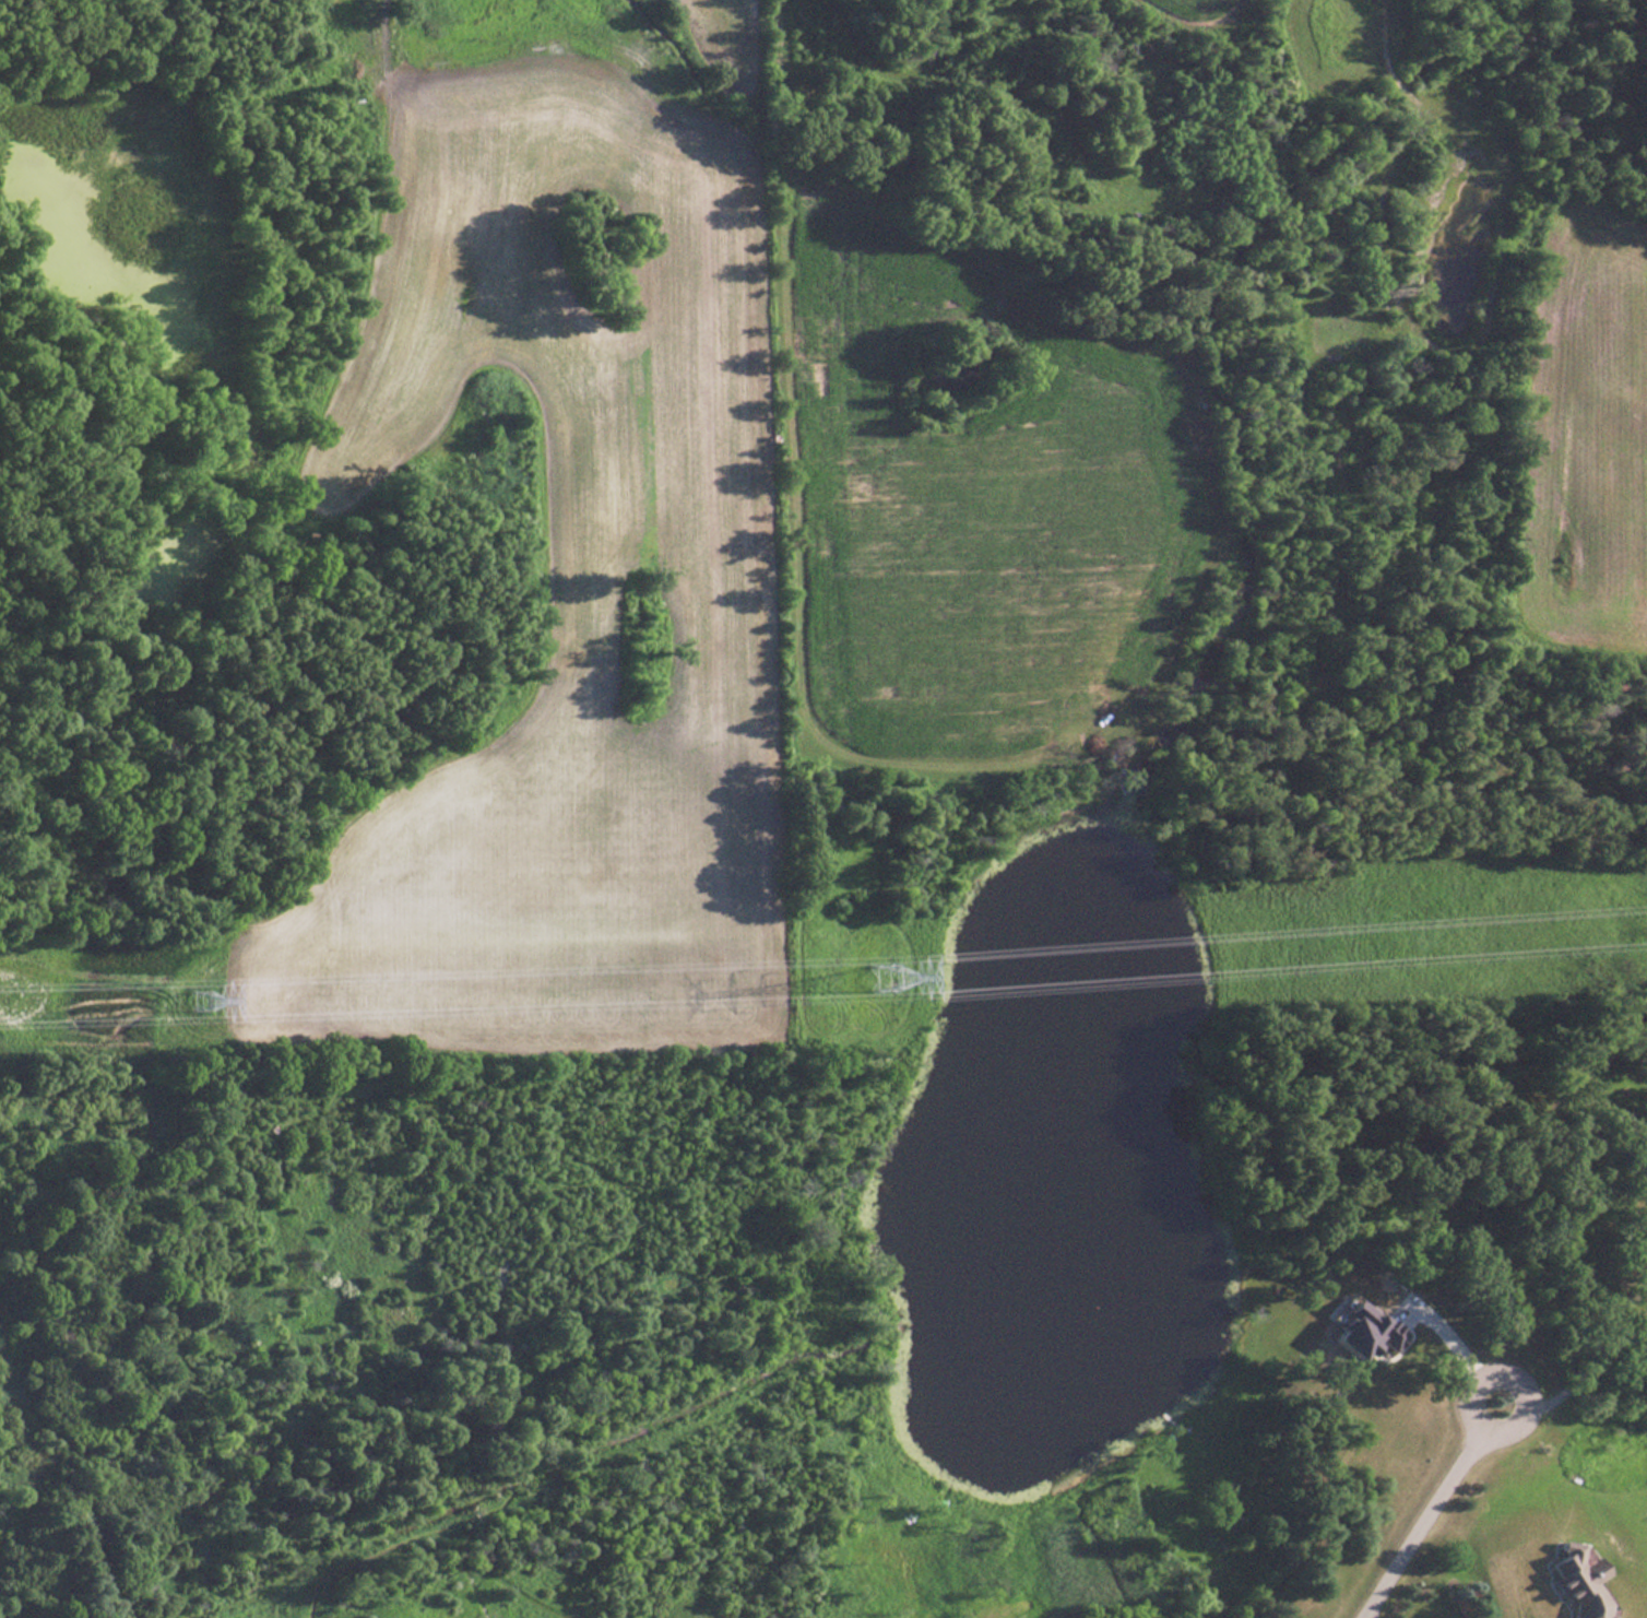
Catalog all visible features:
power tower: (886, 978)
power tower: (200, 1002)
road: (1466, 1344)
road: (1579, 1378)
road: (1433, 1511)
building: (1581, 1582)

